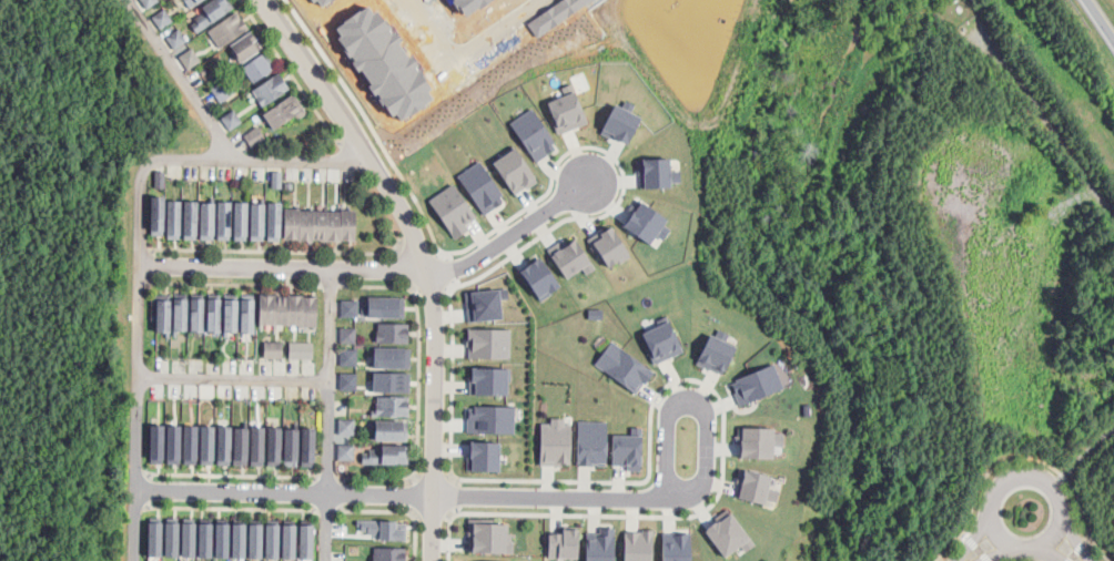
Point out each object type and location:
building: (318, 0)
building: (149, 2)
building: (192, 2)
building: (210, 14)
building: (162, 18)
road: (1098, 21)
building: (227, 29)
building: (175, 39)
building: (246, 47)
road: (466, 52)
building: (190, 58)
building: (257, 69)
road: (178, 80)
building: (271, 90)
building: (222, 91)
building: (567, 109)
building: (284, 112)
building: (231, 120)
road: (1044, 120)
building: (621, 123)
building: (535, 134)
building: (254, 136)
building: (516, 170)
building: (656, 171)
building: (160, 178)
building: (483, 186)
building: (454, 208)
building: (159, 214)
building: (174, 217)
building: (191, 218)
building: (225, 218)
building: (242, 218)
building: (209, 220)
building: (259, 220)
building: (275, 220)
building: (648, 221)
building: (321, 223)
road: (510, 234)
building: (610, 245)
road: (140, 249)
road: (424, 256)
building: (571, 256)
road: (285, 269)
building: (540, 276)
building: (484, 303)
building: (375, 306)
building: (288, 308)
building: (232, 312)
building: (249, 312)
building: (199, 313)
building: (214, 313)
building: (182, 314)
building: (393, 331)
building: (347, 334)
building: (662, 339)
building: (489, 341)
building: (273, 348)
building: (301, 349)
building: (718, 350)
building: (348, 356)
building: (392, 356)
building: (624, 366)
building: (489, 379)
building: (348, 380)
building: (391, 380)
road: (231, 382)
building: (757, 384)
building: (224, 390)
building: (392, 405)
road: (324, 416)
building: (490, 418)
building: (346, 425)
building: (392, 429)
building: (761, 440)
building: (556, 441)
building: (594, 441)
building: (158, 442)
building: (191, 443)
building: (224, 443)
building: (242, 445)
building: (259, 445)
building: (275, 445)
building: (300, 446)
building: (629, 448)
building: (346, 450)
building: (385, 453)
building: (485, 455)
road: (1084, 459)
road: (669, 492)
road: (283, 493)
road: (984, 508)
building: (382, 527)
building: (730, 533)
building: (172, 535)
building: (490, 535)
building: (155, 537)
building: (190, 537)
building: (206, 538)
building: (223, 538)
road: (1071, 538)
building: (240, 539)
building: (256, 539)
building: (273, 539)
building: (290, 539)
building: (307, 540)
road: (971, 540)
building: (566, 542)
building: (601, 544)
building: (639, 544)
building: (679, 545)
building: (391, 553)
road: (993, 554)
road: (1044, 555)
building: (480, 560)

